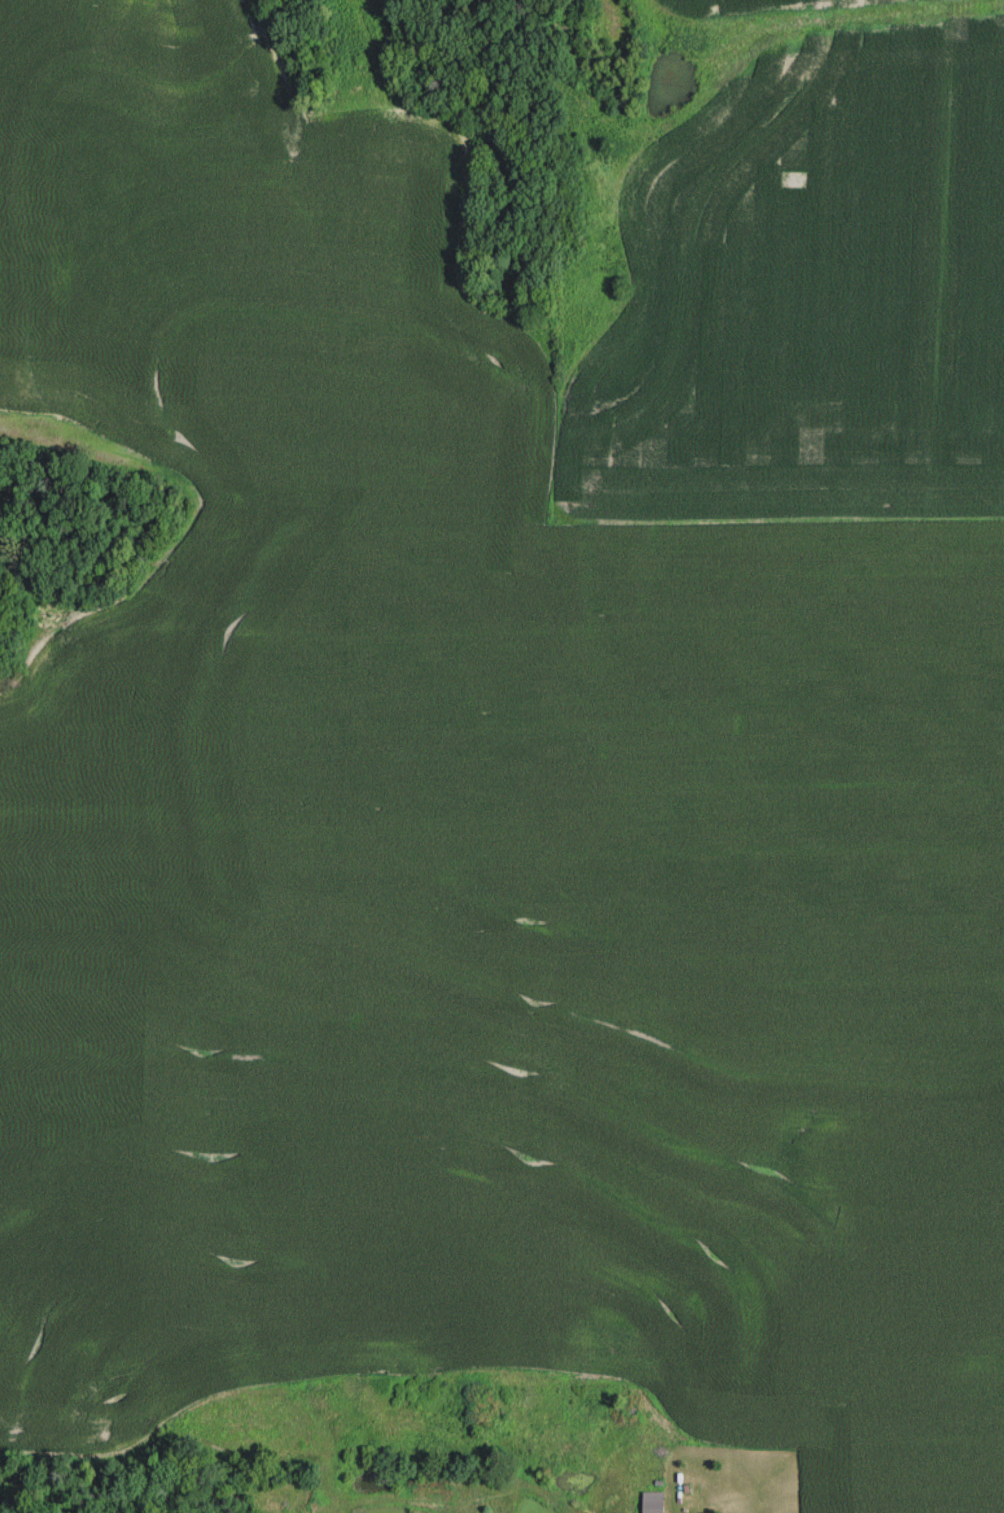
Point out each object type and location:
crop: (806, 288)
crop: (459, 611)
crop: (464, 1210)
building: (655, 1502)

